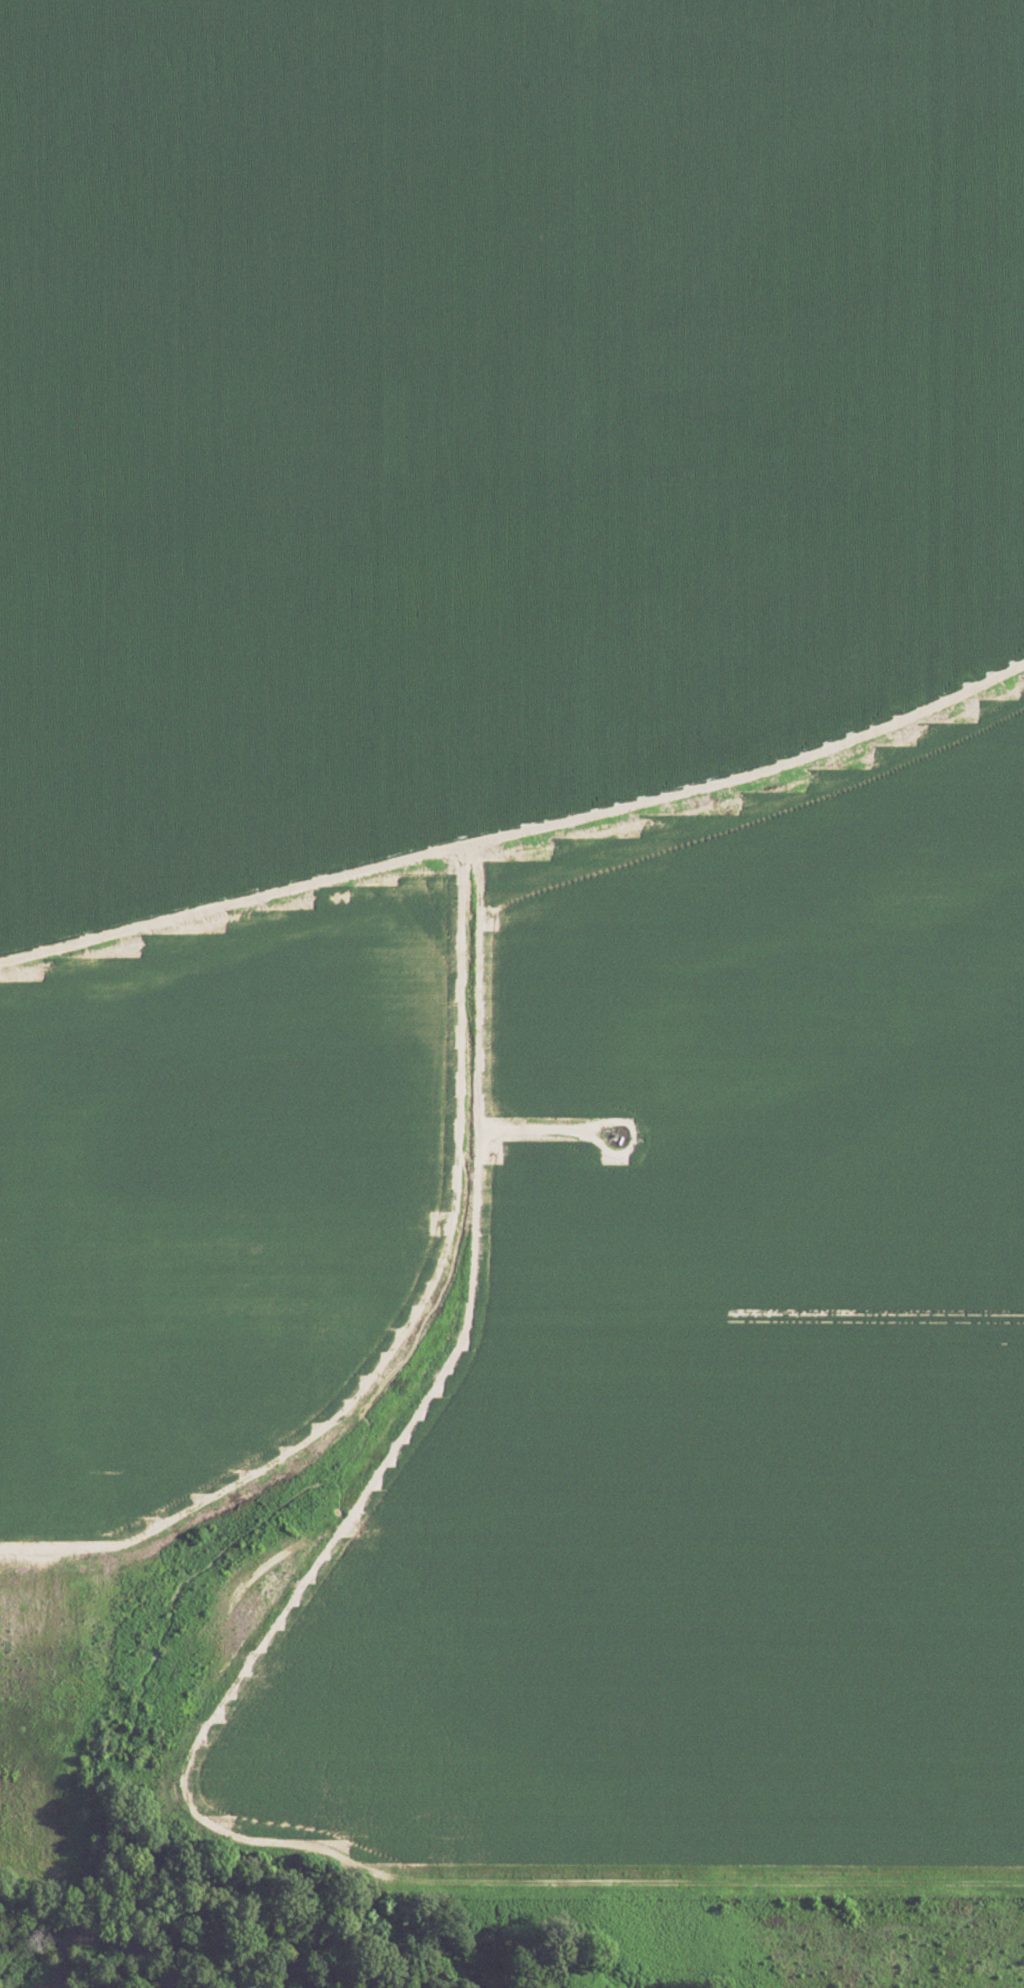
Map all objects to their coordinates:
road: (511, 31)
road: (521, 809)

